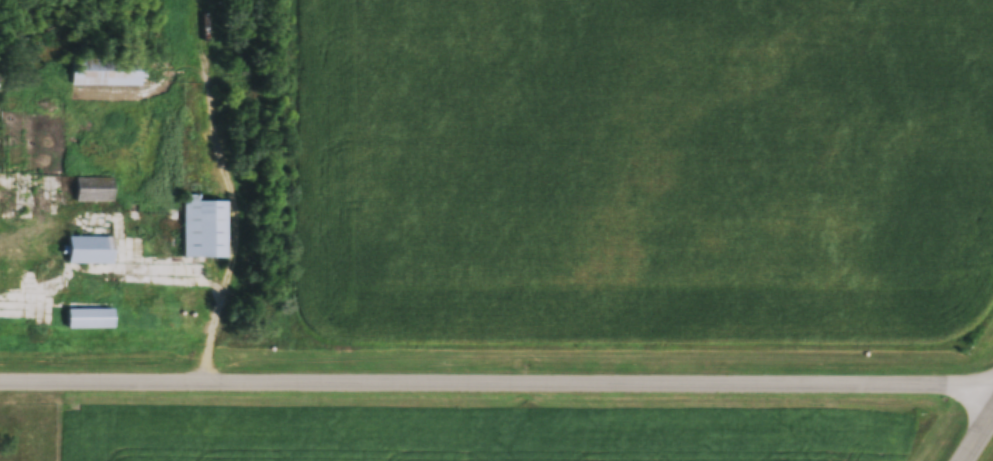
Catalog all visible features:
building: (205, 229)
building: (91, 252)
building: (11, 276)
building: (90, 320)
road: (496, 388)
road: (981, 442)

